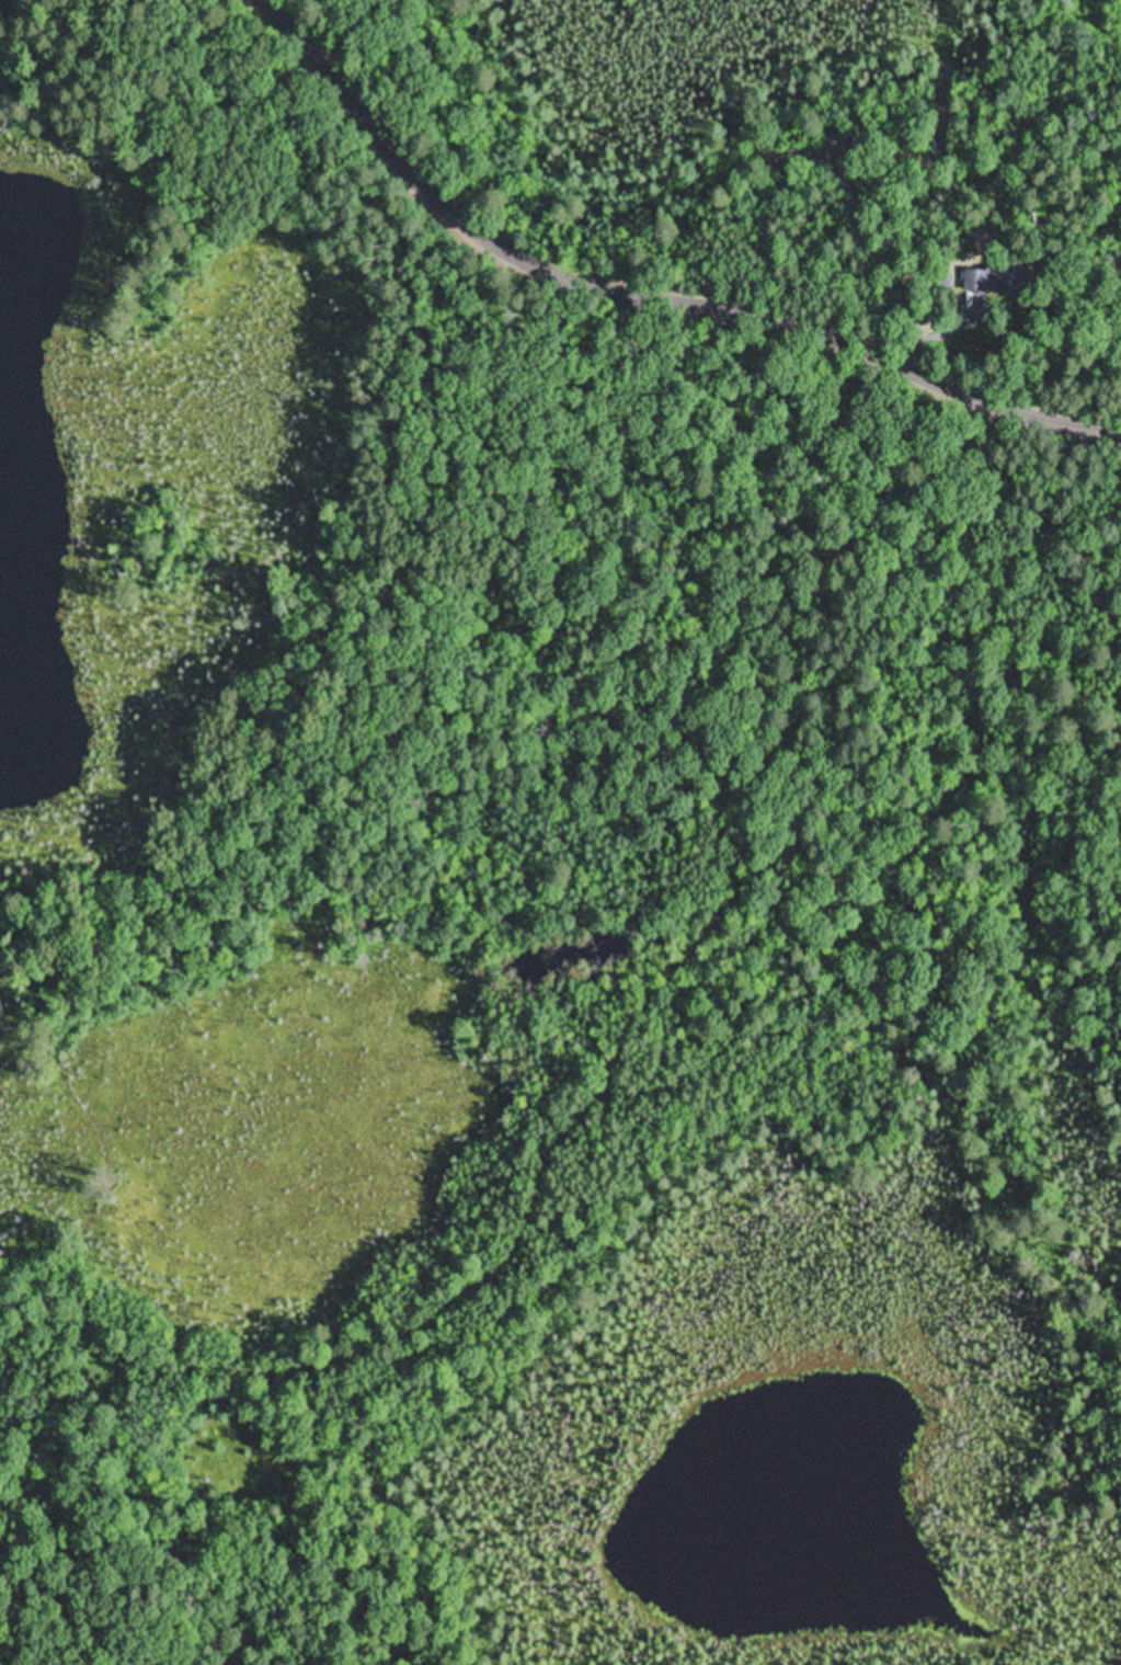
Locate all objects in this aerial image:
building: (993, 282)
road: (645, 297)

